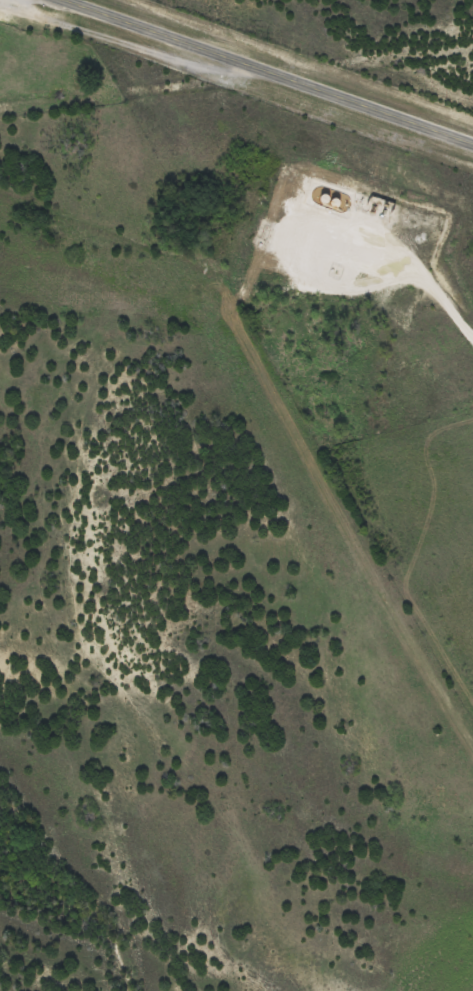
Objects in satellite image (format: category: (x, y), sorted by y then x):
road: (3, 1)
road: (264, 74)
road: (236, 81)
building: (382, 204)

